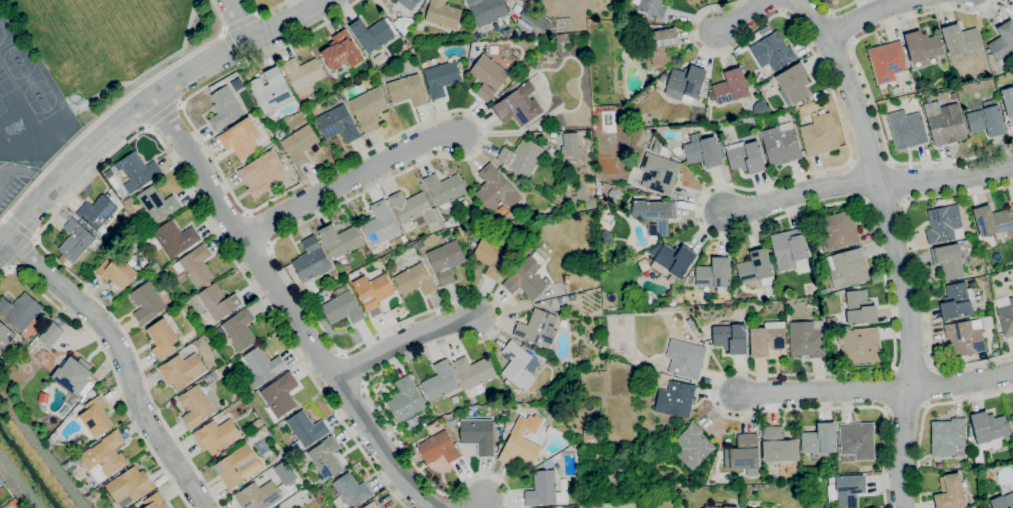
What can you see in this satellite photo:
building: (408, 3)
building: (653, 7)
road: (838, 9)
road: (266, 10)
building: (487, 10)
building: (443, 14)
road: (867, 14)
building: (1012, 14)
road: (743, 16)
road: (239, 19)
road: (241, 20)
road: (266, 31)
building: (372, 34)
building: (961, 39)
building: (1003, 42)
building: (662, 45)
building: (923, 46)
building: (342, 51)
building: (772, 51)
park: (12, 52)
building: (889, 63)
building: (655, 71)
building: (303, 74)
building: (488, 76)
building: (662, 77)
park: (27, 78)
building: (441, 78)
building: (687, 81)
park: (4, 82)
building: (793, 83)
building: (730, 87)
road: (868, 88)
building: (271, 90)
building: (407, 90)
building: (894, 91)
building: (954, 96)
road: (147, 99)
building: (1008, 100)
park: (43, 105)
road: (115, 106)
building: (518, 106)
building: (224, 108)
building: (369, 108)
building: (760, 108)
park: (1, 109)
road: (164, 115)
building: (987, 119)
building: (945, 123)
building: (338, 124)
building: (906, 129)
building: (819, 134)
road: (135, 136)
building: (240, 138)
building: (570, 143)
building: (300, 144)
building: (780, 145)
building: (656, 148)
building: (703, 150)
building: (746, 156)
road: (85, 157)
building: (521, 157)
building: (138, 171)
road: (28, 172)
building: (261, 173)
building: (659, 173)
road: (947, 177)
road: (350, 178)
road: (374, 186)
building: (444, 188)
building: (495, 189)
building: (612, 192)
road: (802, 192)
road: (837, 203)
building: (1012, 205)
building: (155, 206)
building: (412, 207)
building: (97, 211)
building: (654, 216)
building: (992, 220)
building: (943, 223)
building: (380, 224)
building: (447, 224)
road: (19, 227)
building: (838, 230)
building: (605, 236)
building: (175, 238)
road: (34, 239)
building: (341, 240)
building: (77, 241)
road: (893, 244)
building: (789, 247)
road: (19, 253)
building: (492, 258)
building: (446, 260)
building: (948, 260)
building: (673, 261)
building: (311, 263)
building: (644, 263)
building: (195, 265)
building: (757, 268)
building: (847, 268)
road: (918, 270)
building: (118, 271)
building: (714, 274)
building: (567, 278)
building: (987, 278)
building: (415, 279)
building: (526, 279)
building: (373, 292)
building: (573, 296)
building: (956, 301)
building: (147, 302)
building: (217, 303)
road: (290, 306)
building: (858, 307)
building: (343, 308)
building: (20, 311)
building: (1005, 314)
building: (831, 322)
building: (987, 322)
building: (564, 326)
building: (538, 328)
building: (238, 330)
building: (51, 334)
building: (965, 337)
building: (162, 338)
building: (731, 338)
building: (767, 338)
building: (807, 338)
building: (7, 340)
road: (405, 340)
building: (860, 345)
building: (685, 359)
road: (120, 360)
building: (550, 363)
building: (263, 365)
building: (519, 365)
road: (113, 368)
building: (221, 369)
building: (182, 370)
building: (474, 371)
building: (74, 375)
building: (440, 381)
road: (962, 382)
road: (823, 389)
building: (91, 393)
building: (280, 395)
building: (548, 397)
building: (676, 399)
building: (406, 400)
building: (196, 406)
building: (64, 411)
road: (925, 413)
building: (1012, 417)
building: (95, 419)
building: (410, 423)
building: (990, 429)
building: (306, 430)
building: (478, 435)
building: (216, 436)
building: (590, 436)
building: (601, 436)
building: (947, 436)
building: (820, 440)
building: (857, 440)
building: (778, 445)
building: (693, 446)
building: (519, 447)
building: (438, 448)
building: (105, 454)
building: (743, 454)
building: (326, 457)
building: (548, 463)
building: (238, 466)
road: (487, 473)
building: (280, 479)
building: (129, 485)
building: (351, 489)
building: (544, 490)
building: (847, 490)
building: (950, 492)
building: (258, 495)
building: (154, 501)
building: (1002, 501)
road: (479, 503)
building: (371, 505)
building: (590, 506)
building: (280, 507)
building: (576, 507)
building: (720, 507)

